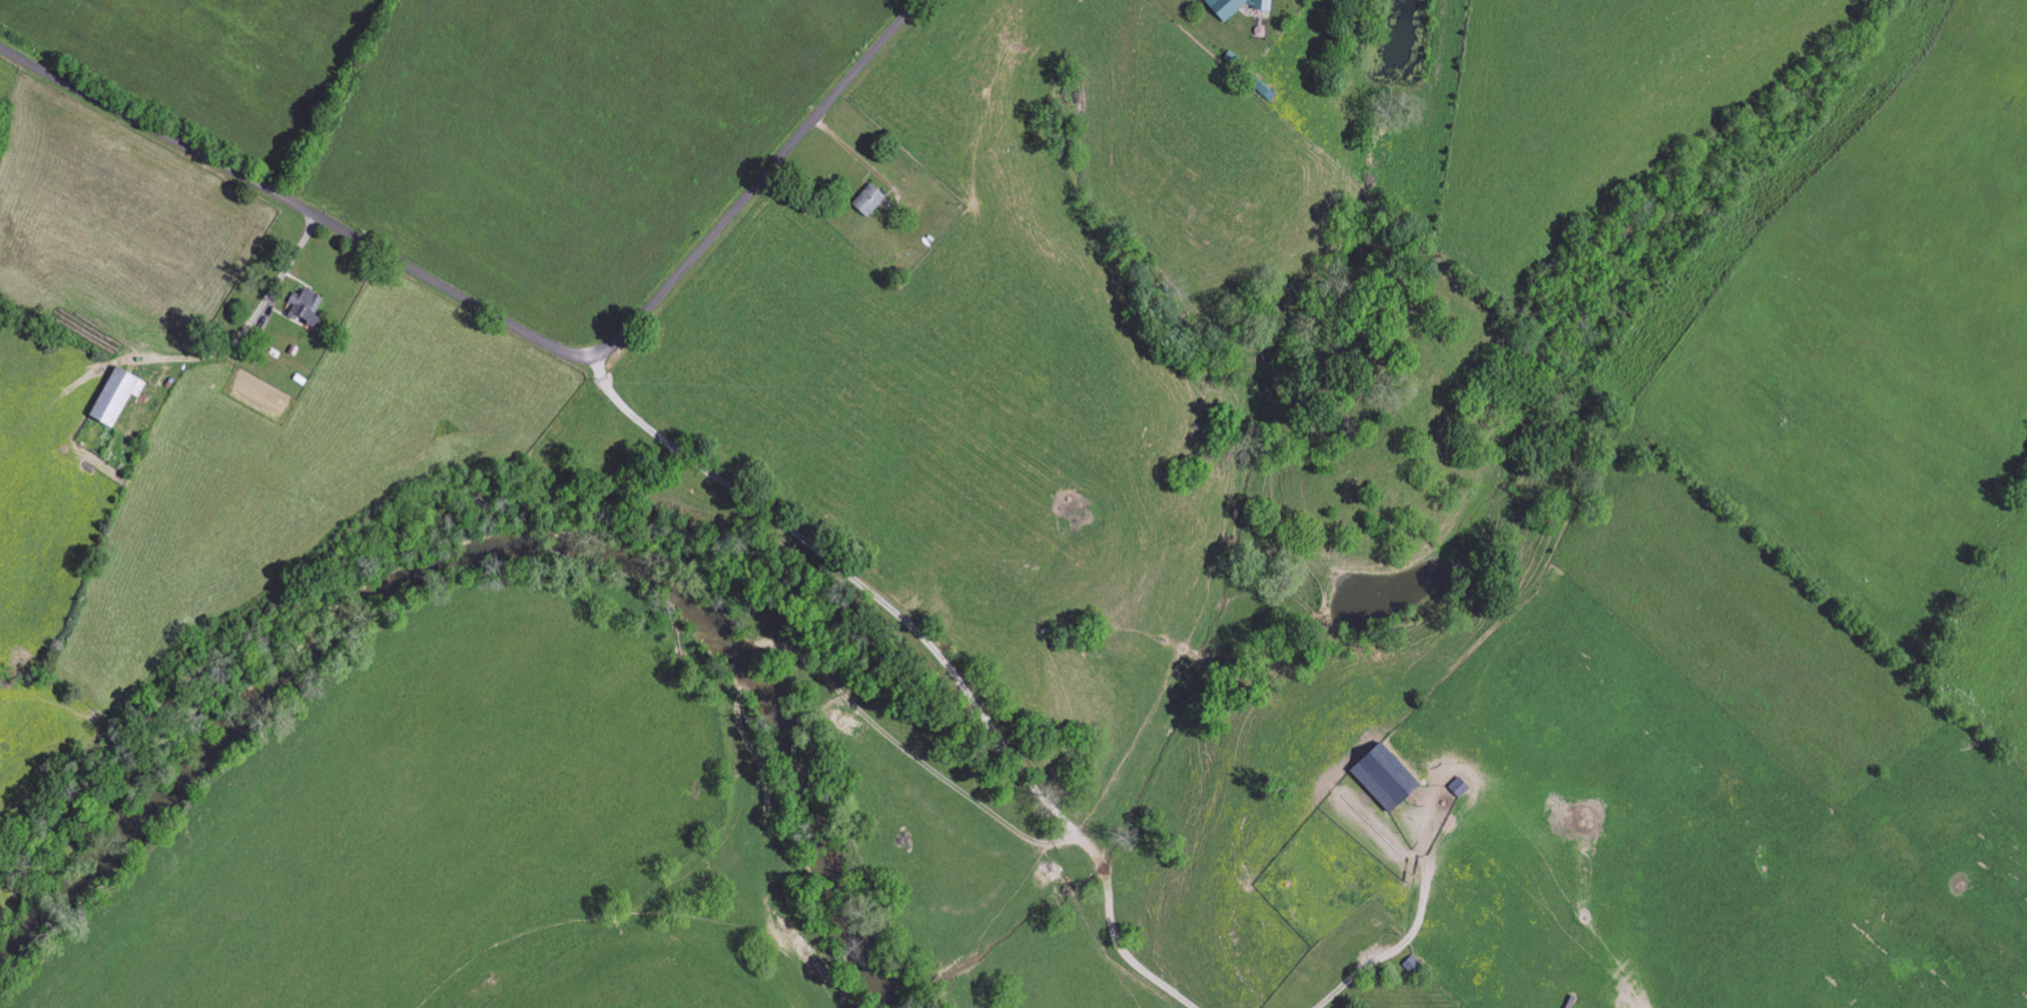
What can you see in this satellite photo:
building: (1262, 5)
building: (1226, 8)
building: (869, 200)
building: (306, 307)
road: (511, 319)
road: (246, 325)
building: (116, 396)
road: (934, 650)
building: (1385, 777)
road: (1419, 928)

